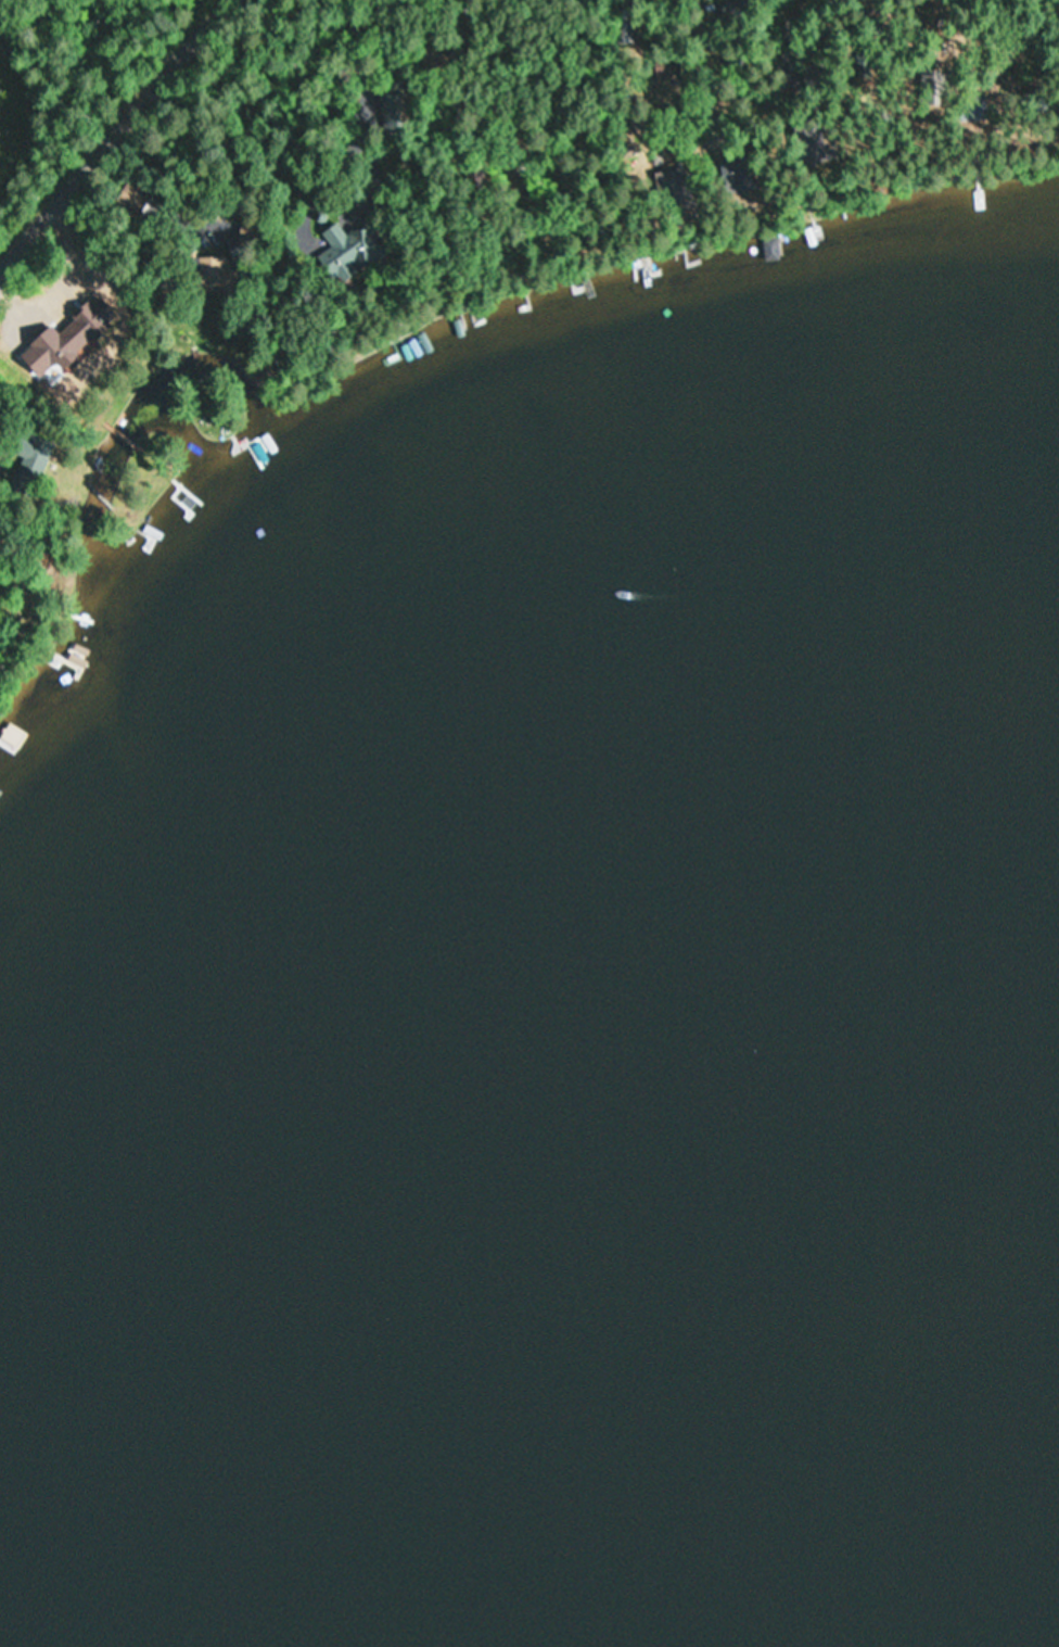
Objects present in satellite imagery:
building: (434, 59)
building: (396, 110)
road: (107, 130)
building: (807, 143)
building: (735, 176)
building: (673, 189)
building: (131, 200)
building: (770, 249)
building: (347, 253)
building: (200, 270)
building: (64, 352)
building: (11, 737)

